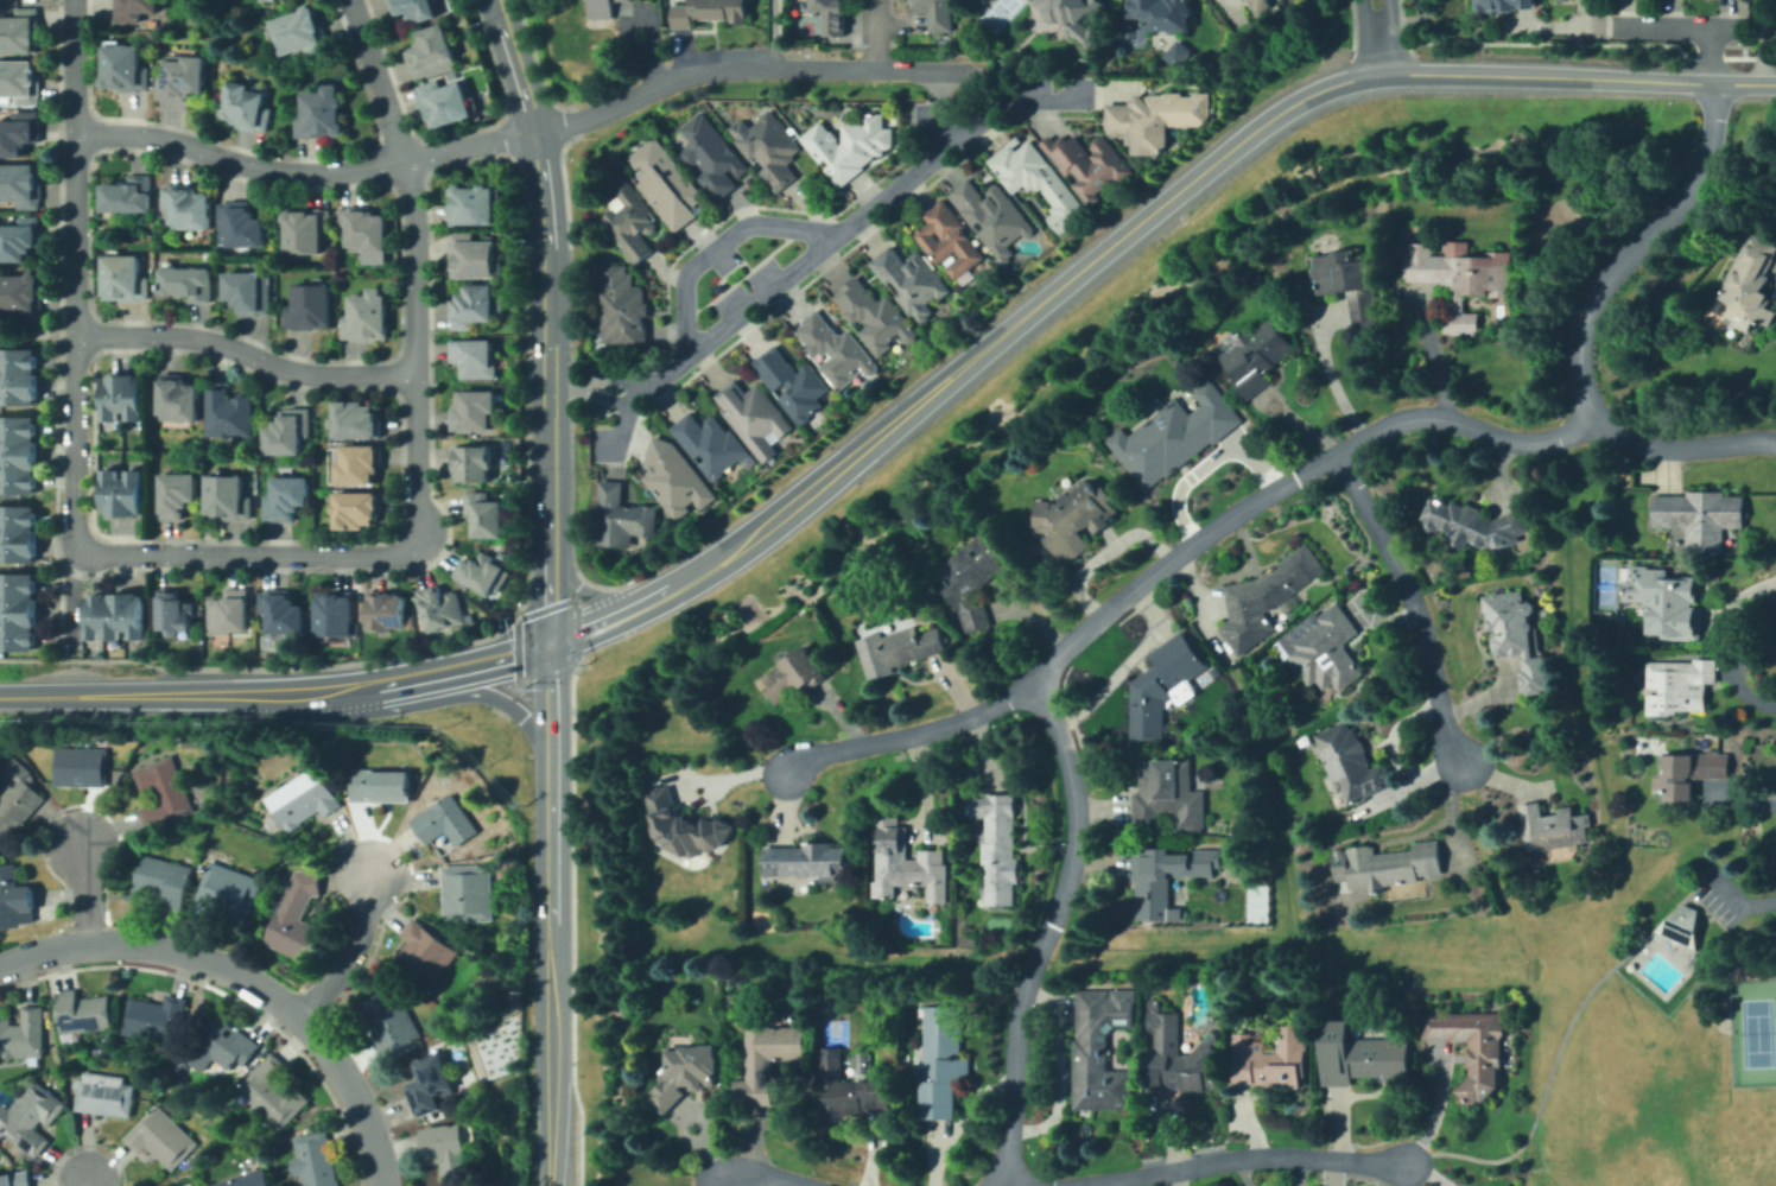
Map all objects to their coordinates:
building: (262, 0)
building: (272, 0)
building: (1510, 4)
building: (1263, 5)
building: (605, 7)
building: (135, 8)
building: (418, 8)
building: (710, 11)
park: (998, 13)
building: (937, 14)
building: (1165, 14)
building: (830, 15)
building: (1073, 17)
park: (534, 23)
building: (304, 27)
road: (1675, 27)
building: (19, 32)
road: (769, 34)
road: (876, 34)
road: (1377, 37)
road: (1761, 42)
building: (436, 49)
building: (1178, 53)
road: (1707, 56)
building: (126, 66)
road: (784, 69)
building: (186, 77)
road: (1577, 78)
building: (19, 82)
road: (941, 84)
building: (448, 101)
road: (1051, 102)
building: (252, 107)
building: (322, 114)
building: (1155, 118)
road: (943, 125)
building: (23, 131)
building: (849, 145)
building: (772, 150)
building: (712, 157)
building: (1090, 165)
road: (332, 171)
building: (1039, 179)
building: (20, 184)
building: (127, 196)
building: (654, 201)
building: (475, 204)
building: (190, 205)
road: (1154, 210)
building: (1014, 220)
building: (239, 224)
building: (306, 230)
building: (366, 230)
building: (949, 239)
building: (23, 240)
road: (825, 243)
road: (718, 246)
parking lot: (719, 256)
building: (472, 258)
road: (412, 266)
road: (550, 272)
building: (125, 277)
building: (1461, 278)
building: (912, 279)
building: (186, 281)
building: (1750, 284)
building: (1346, 285)
building: (250, 292)
parking lot: (751, 294)
building: (21, 296)
building: (310, 306)
building: (476, 306)
building: (623, 309)
building: (367, 316)
building: (876, 316)
road: (1580, 324)
road: (77, 325)
road: (38, 332)
building: (835, 349)
road: (246, 353)
building: (1255, 355)
building: (475, 359)
road: (1326, 372)
building: (20, 376)
road: (578, 380)
road: (623, 381)
building: (793, 383)
road: (624, 398)
building: (127, 399)
building: (183, 399)
road: (578, 399)
building: (231, 412)
building: (474, 412)
building: (755, 416)
building: (360, 419)
road: (624, 421)
building: (292, 432)
building: (1175, 437)
parking lot: (610, 444)
building: (710, 444)
building: (19, 455)
building: (472, 463)
building: (362, 465)
building: (675, 477)
building: (182, 491)
building: (126, 493)
building: (230, 495)
building: (291, 497)
road: (794, 501)
building: (360, 510)
building: (486, 514)
building: (624, 515)
building: (1700, 515)
building: (1080, 518)
building: (1476, 522)
building: (19, 535)
road: (245, 553)
building: (482, 575)
building: (972, 579)
park: (1606, 586)
road: (582, 590)
road: (550, 597)
building: (1267, 598)
road: (1415, 602)
building: (1662, 603)
building: (442, 607)
building: (21, 610)
building: (177, 611)
building: (387, 611)
building: (230, 613)
building: (335, 614)
building: (290, 616)
building: (119, 619)
road: (591, 626)
road: (1078, 636)
building: (1517, 636)
traffic signals: (552, 642)
building: (897, 649)
building: (1326, 649)
road: (494, 660)
road: (61, 668)
building: (793, 674)
building: (1163, 685)
building: (1680, 686)
road: (338, 687)
road: (151, 695)
road: (30, 697)
road: (552, 697)
road: (502, 700)
road: (909, 736)
building: (77, 763)
building: (1352, 763)
building: (1689, 773)
building: (376, 782)
building: (160, 792)
building: (15, 793)
building: (299, 798)
building: (1172, 799)
building: (975, 807)
building: (440, 819)
building: (684, 826)
building: (1553, 829)
building: (1002, 843)
building: (807, 861)
building: (907, 863)
building: (1389, 867)
building: (1168, 875)
building: (159, 877)
building: (224, 889)
road: (1720, 889)
building: (464, 892)
road: (84, 893)
parking lot: (1720, 894)
building: (13, 899)
road: (1756, 901)
building: (293, 919)
building: (1681, 926)
road: (160, 947)
building: (424, 947)
road: (351, 953)
road: (1682, 968)
road: (551, 969)
building: (1153, 1004)
building: (80, 1009)
building: (152, 1016)
building: (386, 1020)
park: (835, 1030)
building: (21, 1032)
park: (1755, 1032)
building: (118, 1035)
building: (217, 1044)
road: (1555, 1046)
building: (96, 1047)
building: (1102, 1052)
building: (1181, 1057)
building: (1360, 1057)
building: (769, 1058)
building: (943, 1060)
building: (1273, 1060)
building: (1485, 1067)
building: (687, 1076)
building: (427, 1083)
building: (848, 1086)
building: (271, 1089)
building: (101, 1092)
road: (353, 1098)
road: (1432, 1112)
building: (27, 1114)
building: (158, 1135)
building: (444, 1146)
road: (1230, 1158)
building: (312, 1159)
road: (765, 1175)
building: (14, 1178)
building: (241, 1178)
road: (83, 1182)
road: (1010, 1184)
building: (194, 1185)

